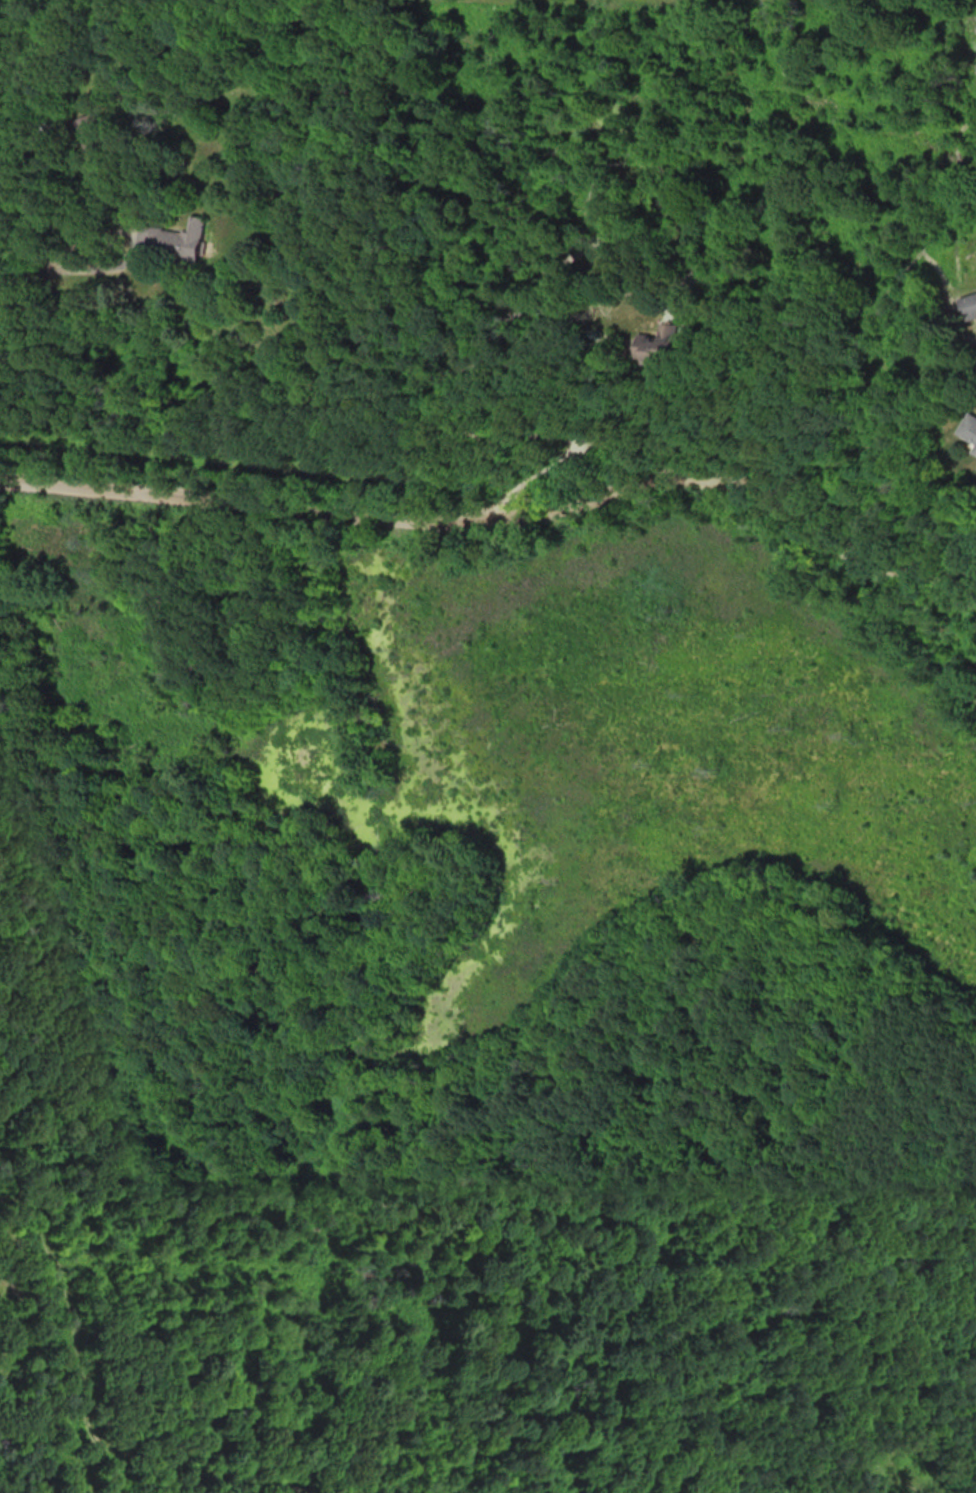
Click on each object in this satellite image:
road: (130, 236)
building: (189, 241)
road: (21, 277)
building: (968, 305)
road: (475, 357)
building: (969, 427)
building: (975, 450)
road: (502, 520)

